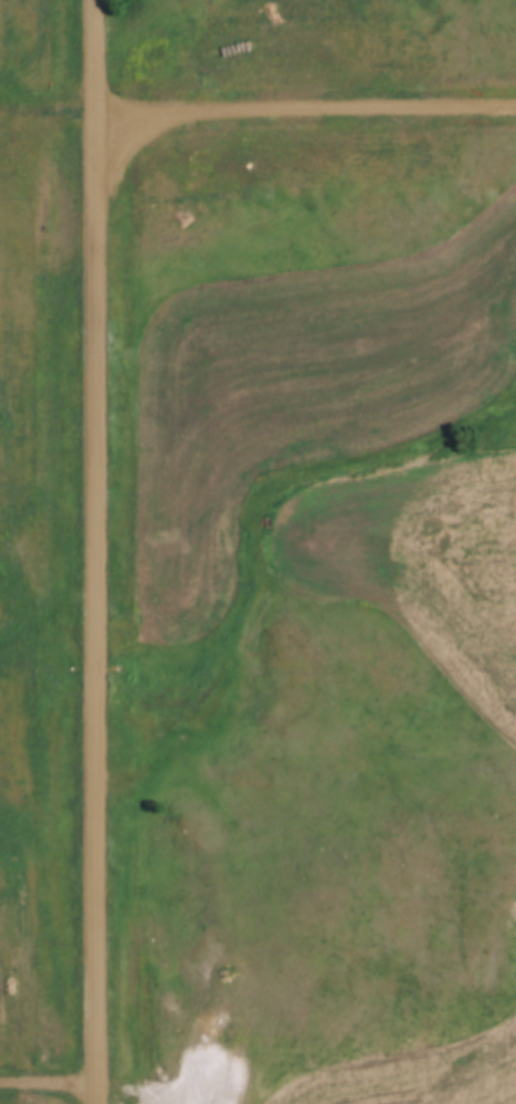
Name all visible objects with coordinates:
road: (97, 552)

